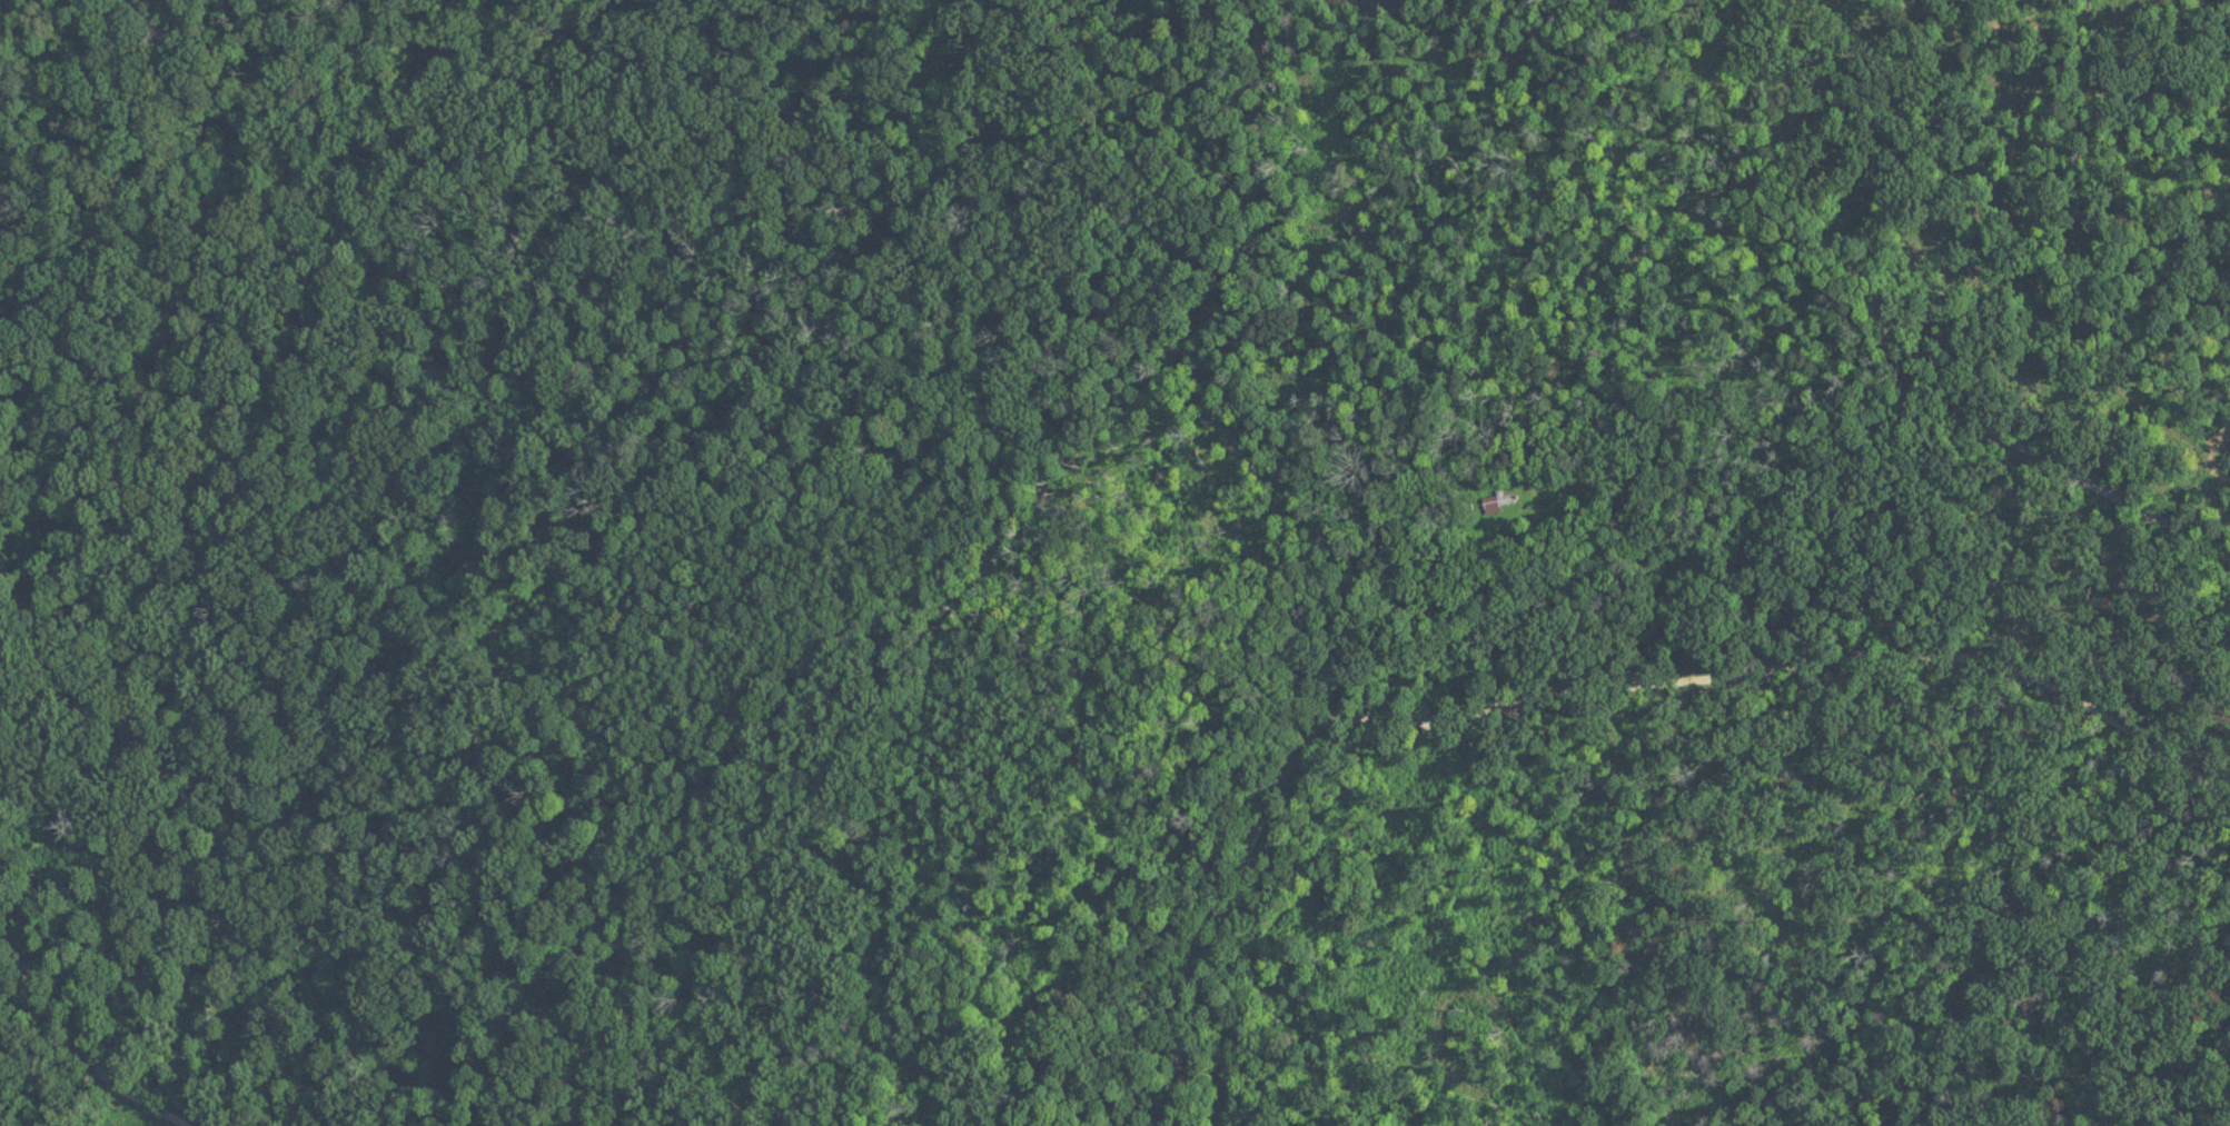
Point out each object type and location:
road: (1883, 332)
building: (1498, 497)

